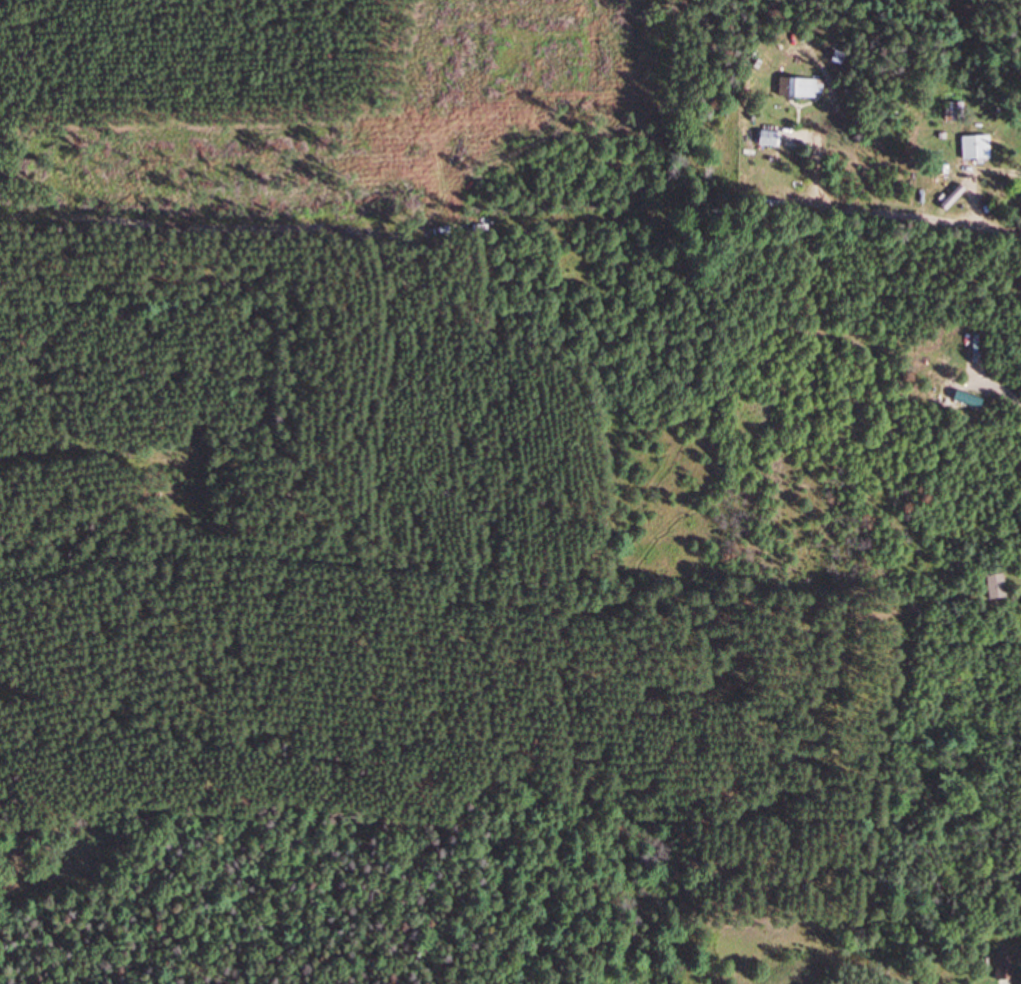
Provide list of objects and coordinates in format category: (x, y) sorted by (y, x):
building: (802, 87)
building: (957, 110)
building: (980, 147)
building: (1000, 587)
building: (1007, 970)

